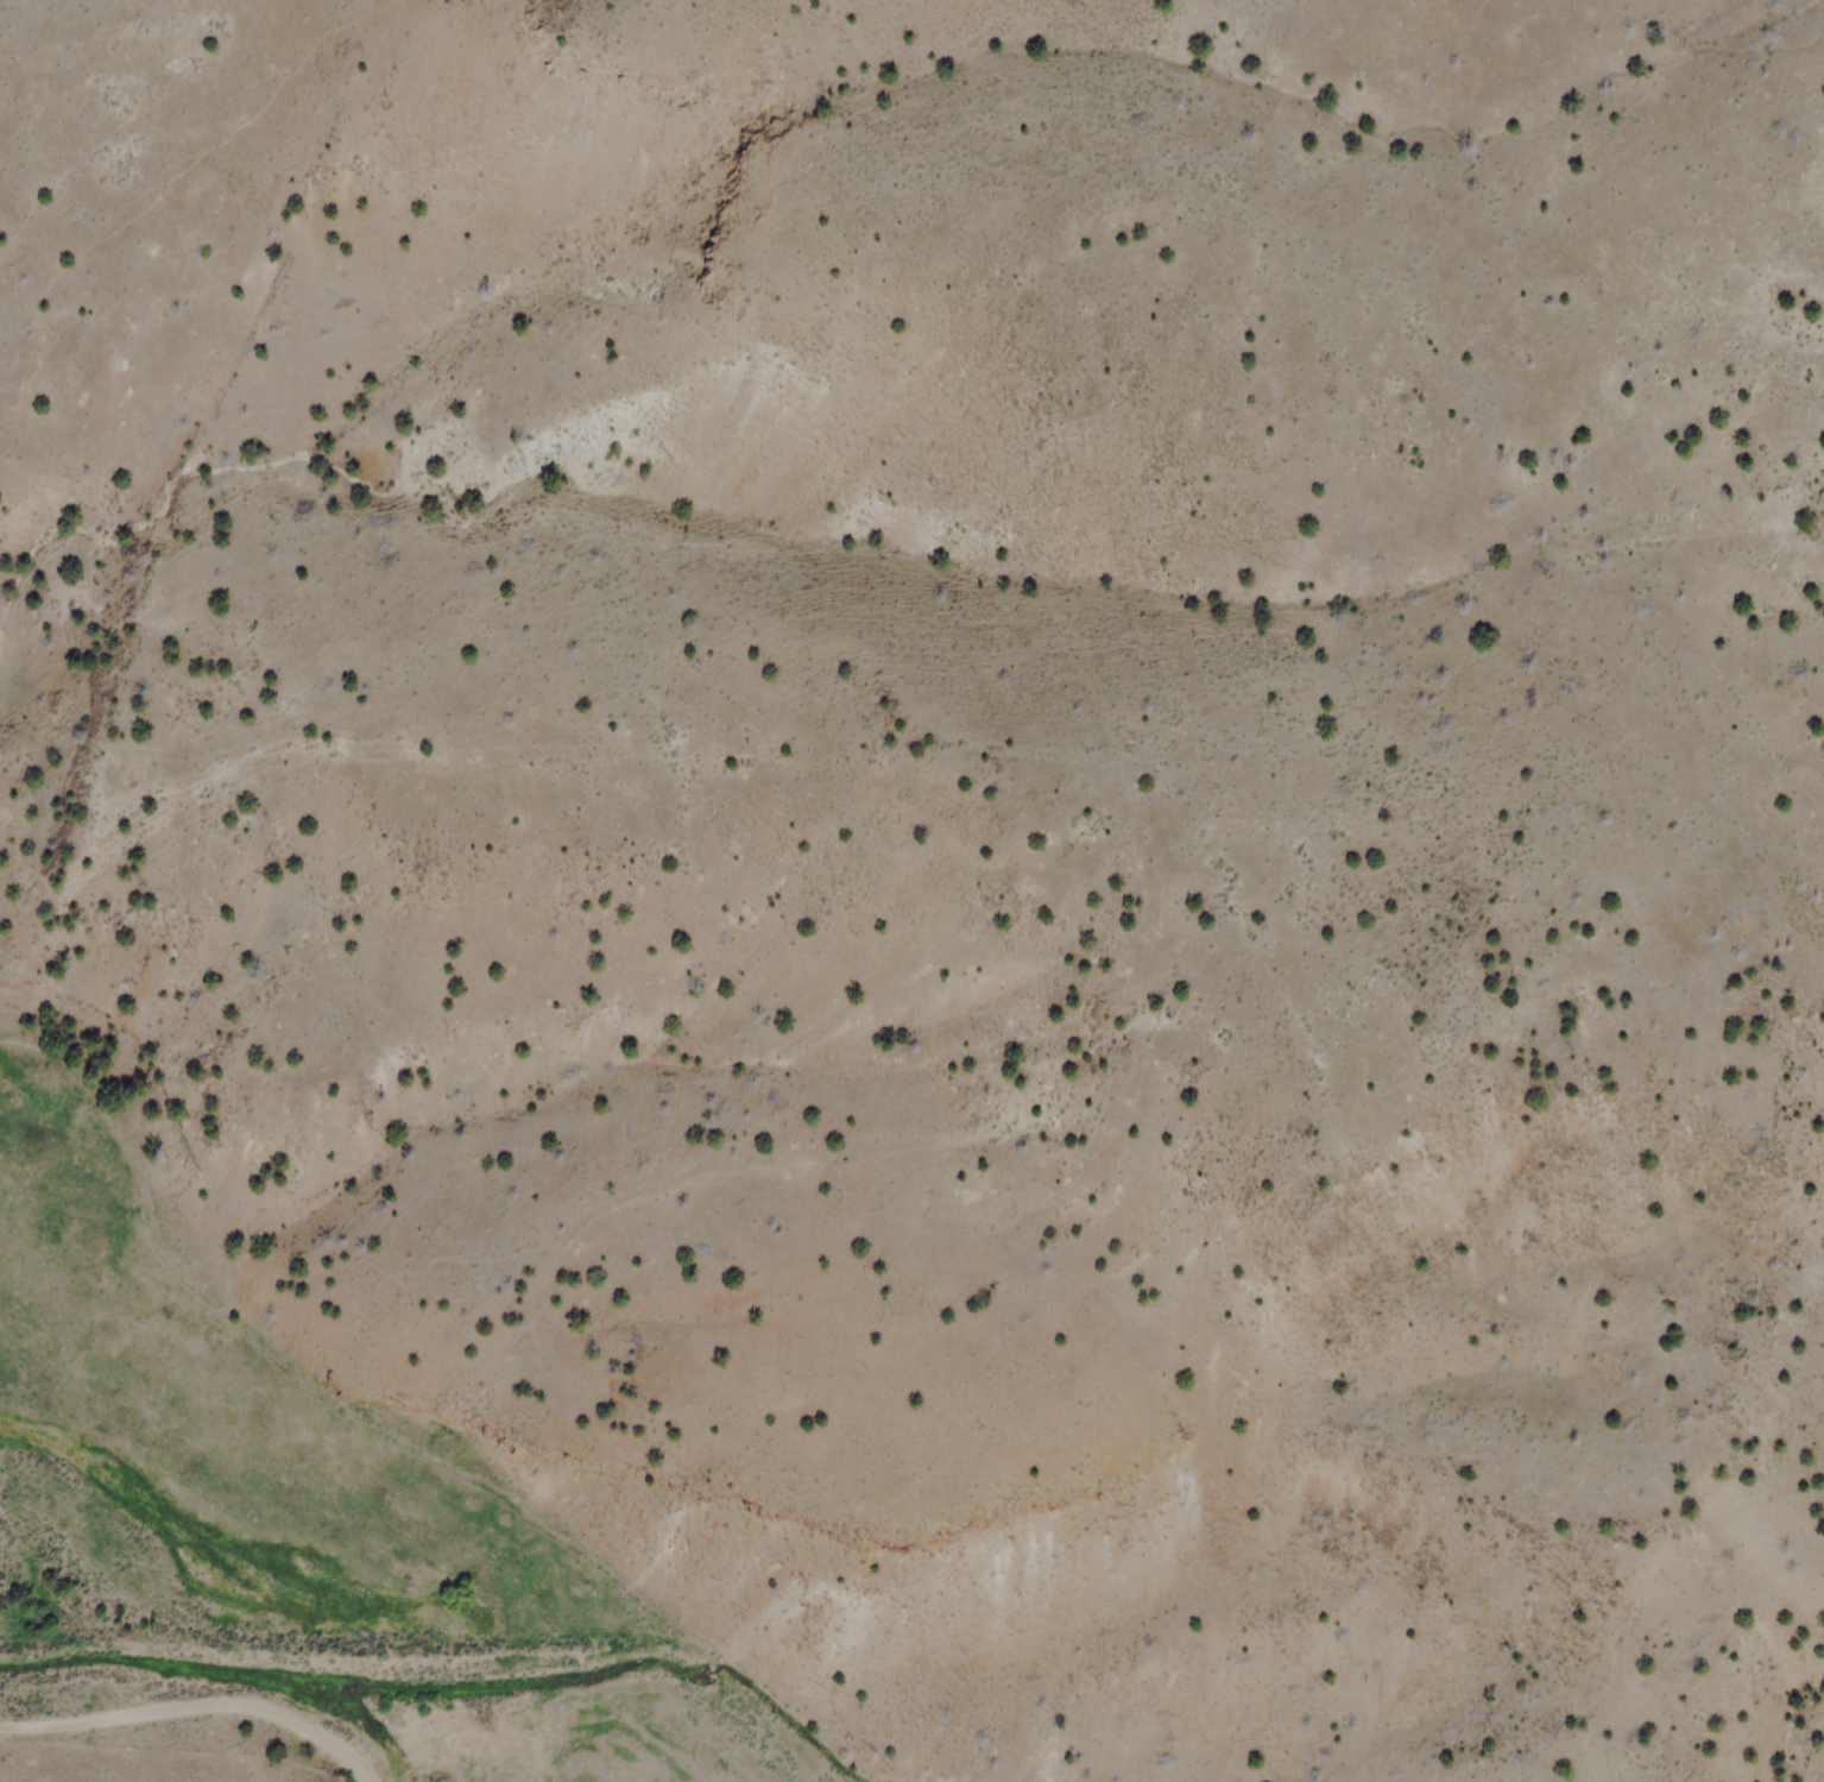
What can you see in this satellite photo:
road: (187, 1699)

